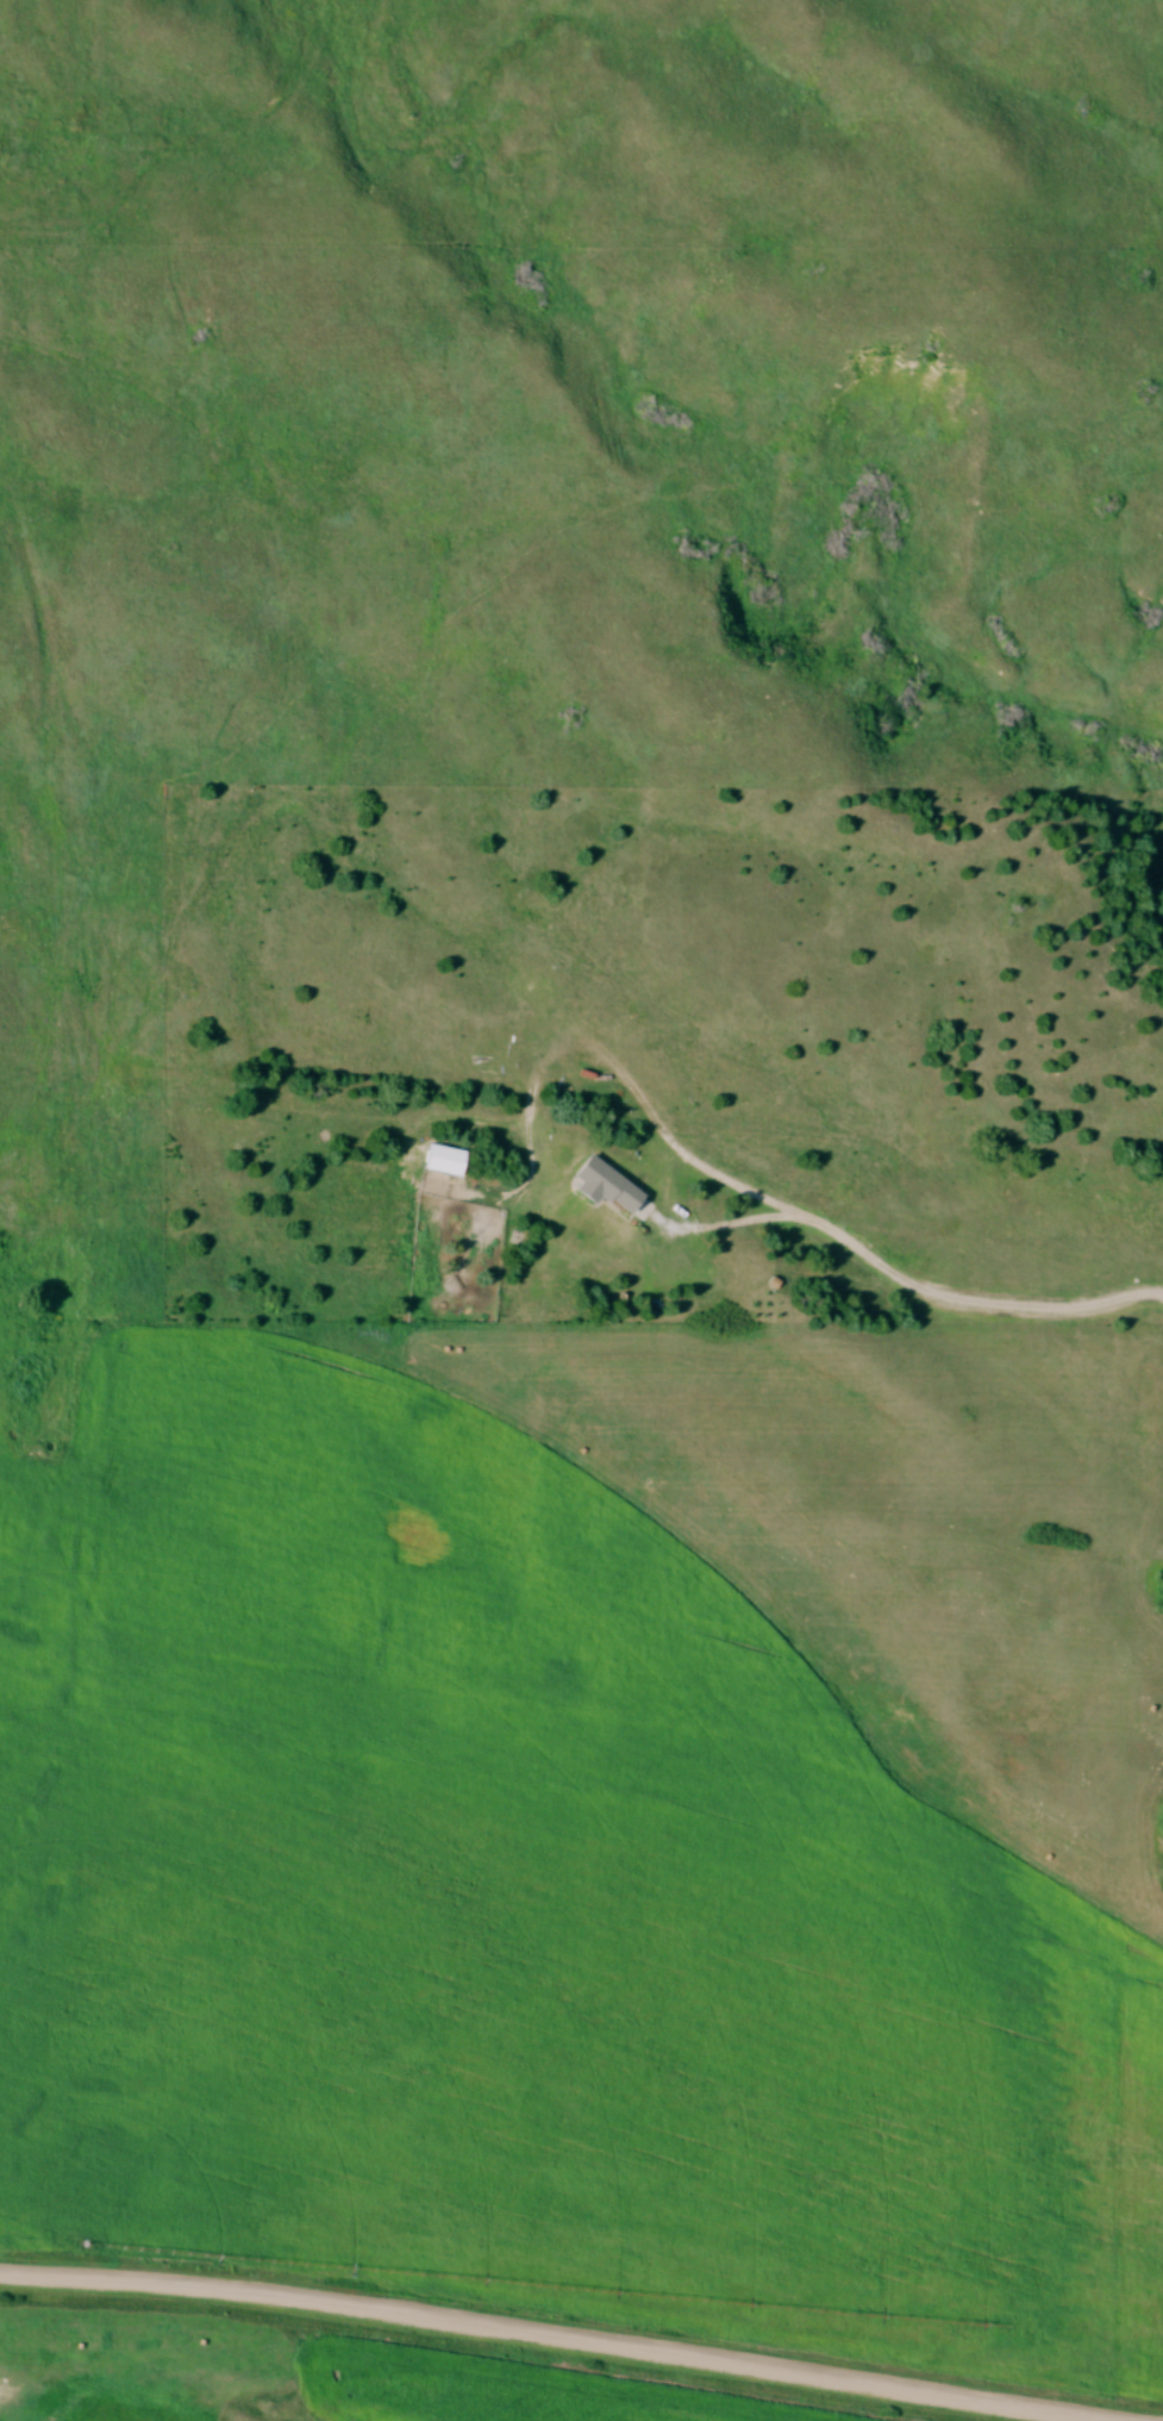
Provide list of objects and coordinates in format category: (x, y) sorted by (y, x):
road: (556, 2334)

